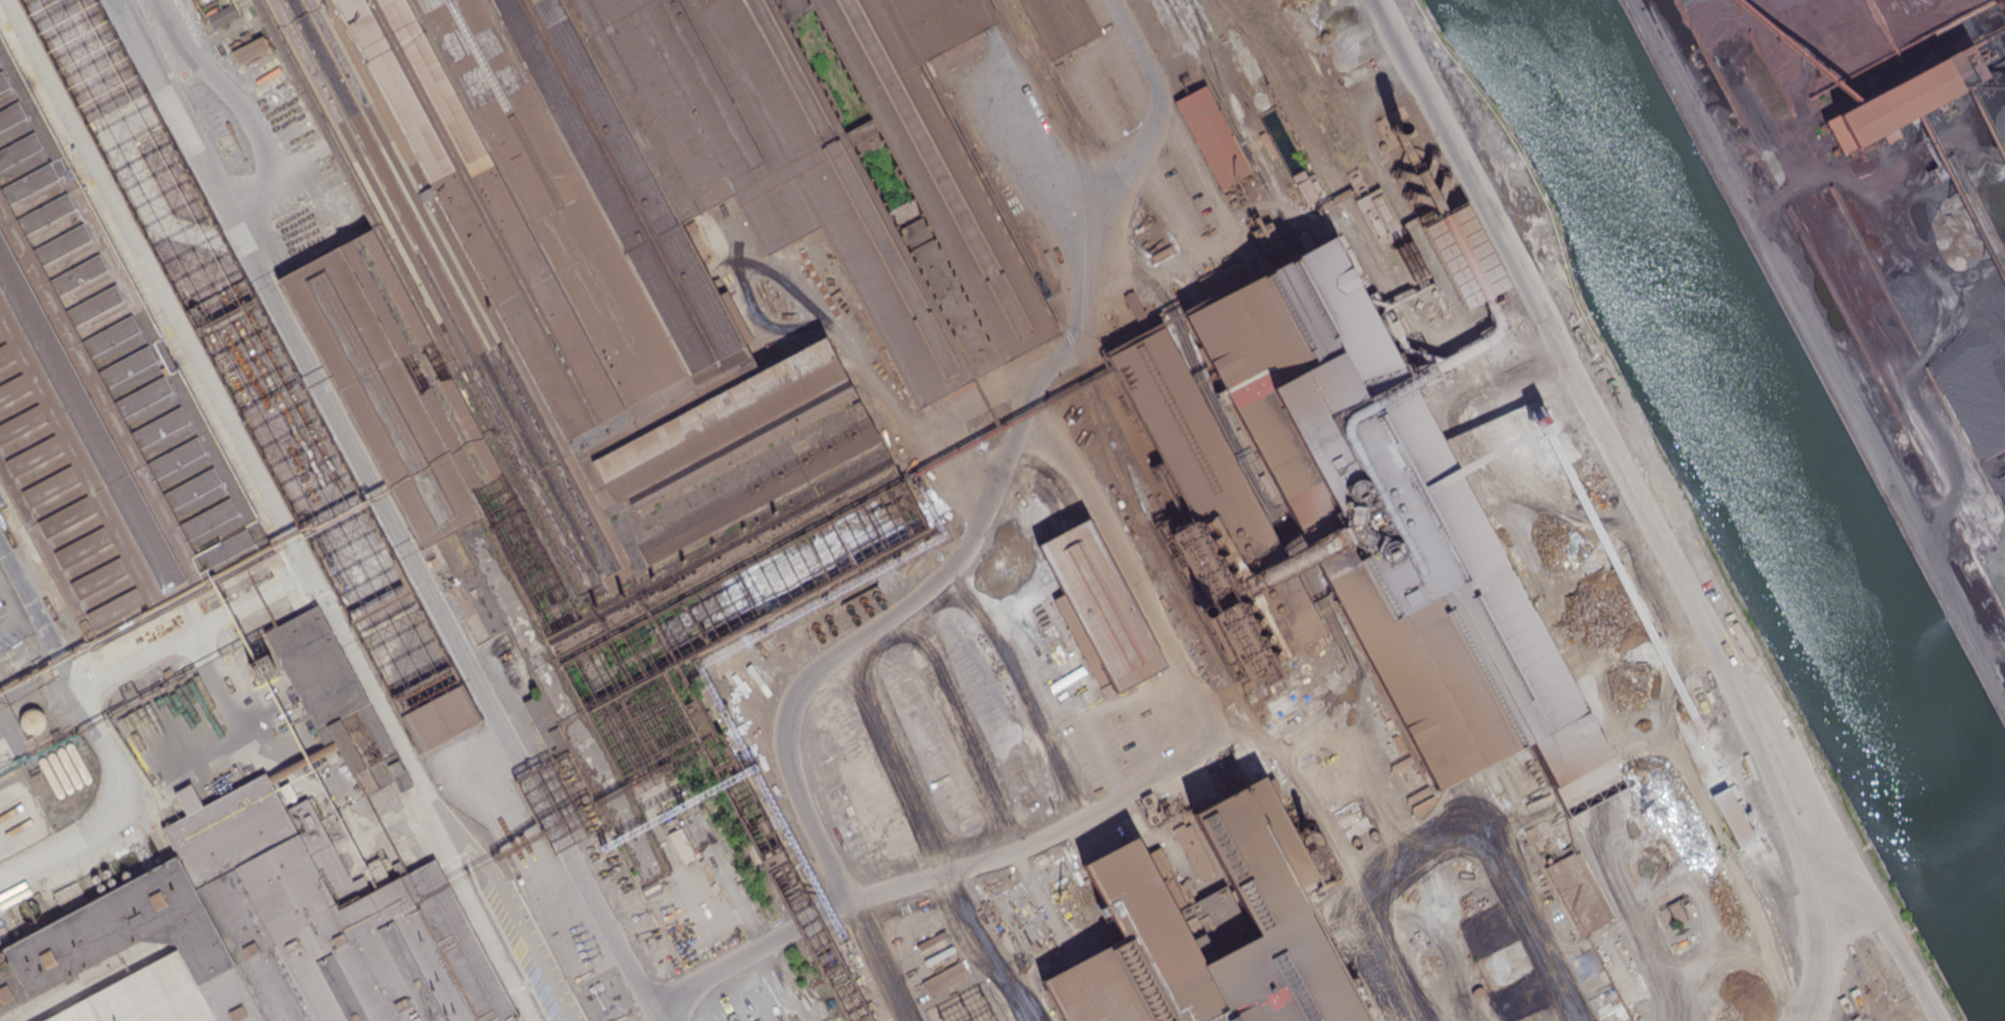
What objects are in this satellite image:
building: (222, 15)
building: (1060, 24)
building: (249, 50)
railway: (1185, 51)
road: (1125, 67)
road: (1081, 72)
railway: (1217, 75)
parking lot: (1104, 86)
railway: (1309, 87)
railway: (1238, 90)
road: (1800, 92)
building: (1901, 98)
road: (238, 101)
railway: (1233, 126)
railway: (1311, 132)
building: (1213, 135)
road: (1055, 170)
railway: (1383, 183)
building: (1305, 188)
building: (1377, 206)
parking lot: (1194, 207)
road: (1112, 213)
road: (1875, 219)
railway: (1011, 228)
road: (1233, 238)
building: (1465, 255)
railway: (1094, 258)
road: (133, 260)
railway: (1388, 277)
building: (628, 286)
road: (838, 331)
road: (1821, 346)
building: (98, 408)
road: (971, 410)
road: (1000, 458)
river: (1758, 461)
road: (1633, 498)
road: (387, 512)
building: (1349, 521)
railway: (1149, 530)
building: (1103, 606)
road: (12, 609)
parking lot: (11, 617)
railway: (1650, 695)
road: (1016, 699)
building: (335, 700)
building: (439, 717)
road: (107, 743)
road: (1210, 743)
road: (935, 784)
road: (1305, 798)
road: (802, 800)
railway: (365, 811)
building: (1732, 816)
building: (681, 844)
road: (1377, 873)
building: (1578, 891)
building: (1141, 913)
road: (1788, 915)
road: (1505, 920)
road: (1886, 923)
building: (258, 932)
road: (882, 962)
building: (944, 978)

